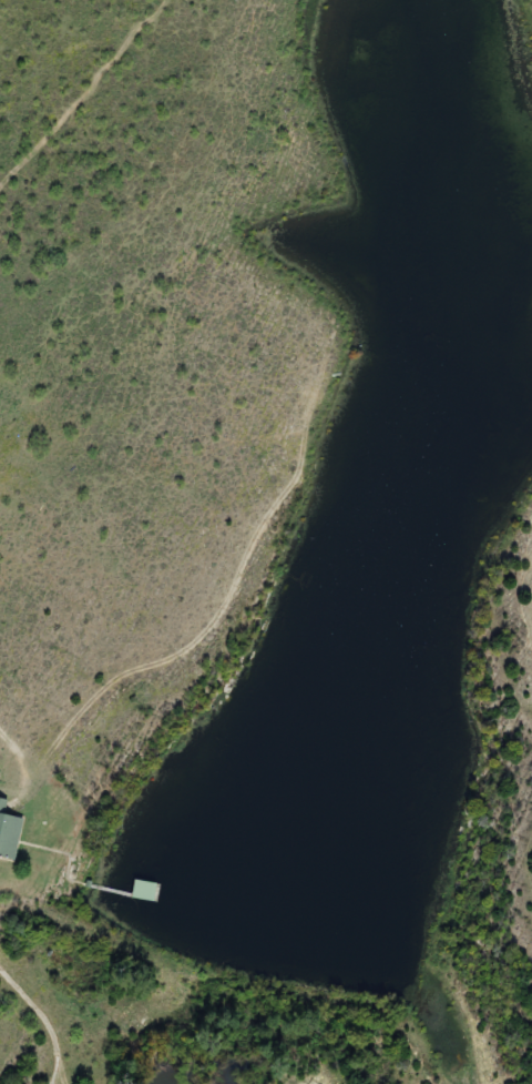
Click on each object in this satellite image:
building: (9, 833)
road: (40, 1024)

